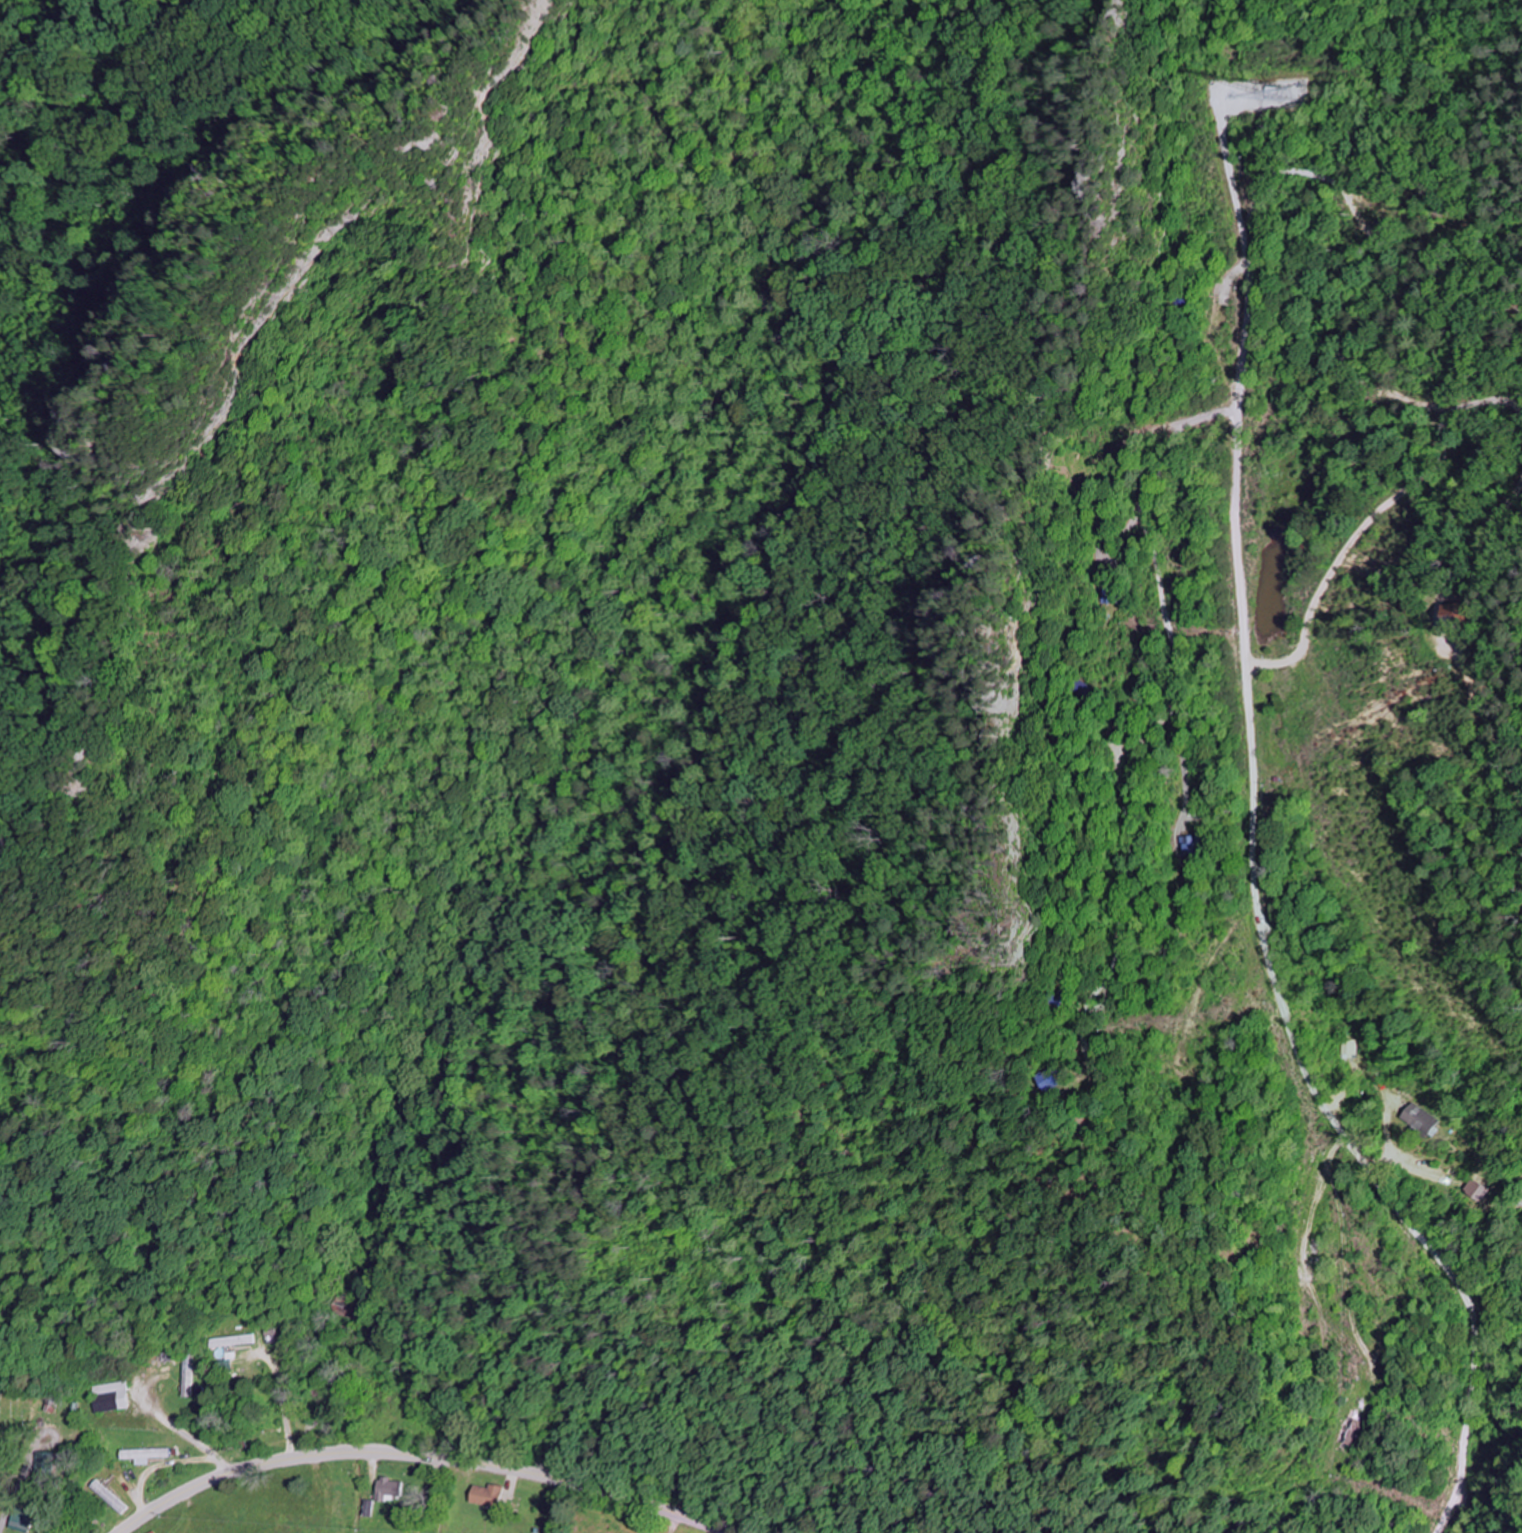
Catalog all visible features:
road: (1242, 357)
road: (1380, 511)
road: (1460, 541)
building: (1105, 596)
building: (1452, 615)
road: (531, 711)
building: (1048, 1080)
building: (1420, 1119)
road: (1327, 1120)
building: (1478, 1191)
building: (233, 1341)
building: (110, 1397)
park: (12, 1435)
building: (145, 1455)
road: (423, 1458)
building: (390, 1489)
building: (488, 1495)
building: (370, 1508)
building: (24, 1520)

